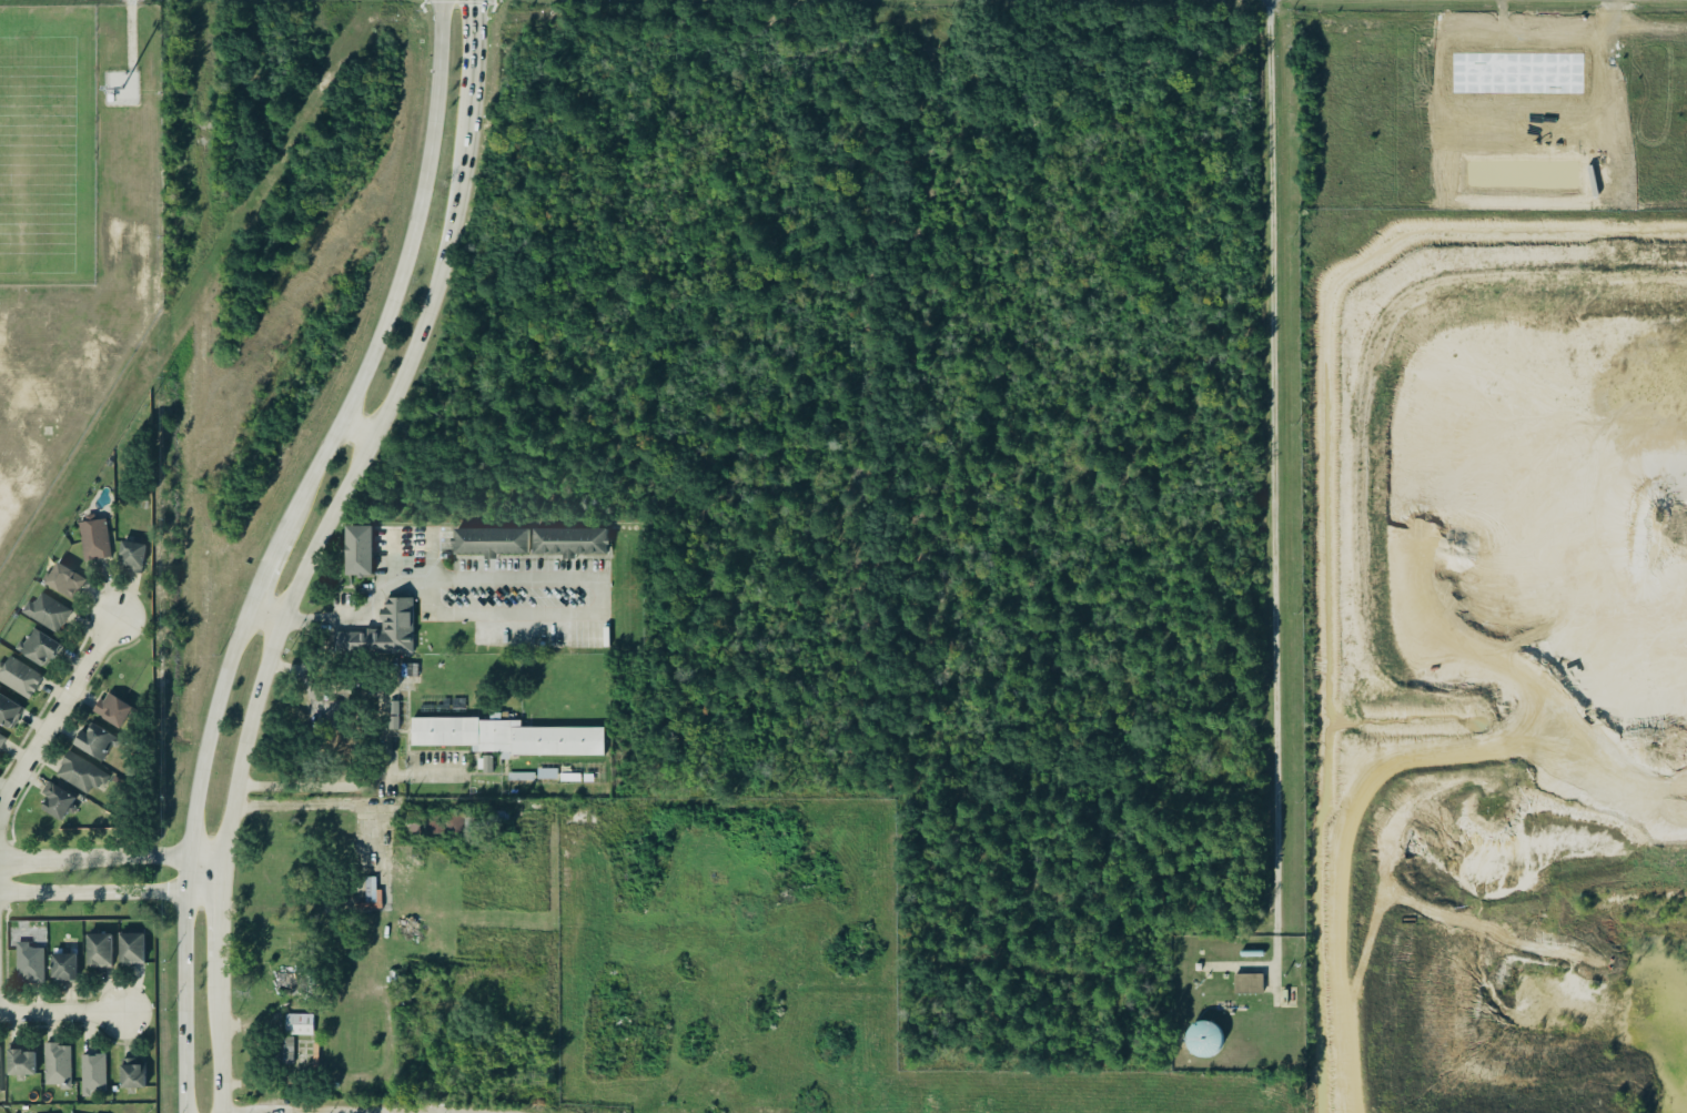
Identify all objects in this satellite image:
road: (479, 34)
building: (1516, 71)
road: (432, 234)
road: (398, 281)
road: (357, 428)
road: (351, 480)
road: (1272, 492)
building: (92, 536)
building: (488, 538)
building: (569, 540)
building: (357, 547)
building: (132, 555)
road: (388, 557)
road: (266, 575)
building: (63, 578)
road: (564, 579)
building: (46, 610)
road: (264, 616)
building: (382, 631)
building: (39, 645)
landfill: (1493, 658)
building: (18, 676)
building: (113, 708)
building: (8, 710)
building: (393, 714)
road: (55, 715)
building: (507, 736)
building: (1, 737)
building: (94, 739)
road: (1423, 751)
building: (484, 762)
building: (80, 771)
road: (431, 775)
building: (521, 776)
road: (320, 785)
building: (58, 800)
road: (304, 802)
road: (112, 858)
road: (192, 858)
road: (111, 891)
road: (1380, 897)
road: (224, 924)
road: (1488, 929)
building: (130, 947)
building: (98, 949)
building: (28, 961)
building: (64, 965)
building: (289, 980)
building: (1247, 982)
wastewater plant: (1235, 1000)
road: (61, 1014)
building: (299, 1023)
road: (225, 1036)
building: (1204, 1038)
building: (284, 1049)
building: (20, 1061)
building: (55, 1063)
building: (93, 1073)
building: (131, 1073)
building: (0, 1081)
building: (95, 1112)
road: (317, 1112)
road: (456, 1112)

